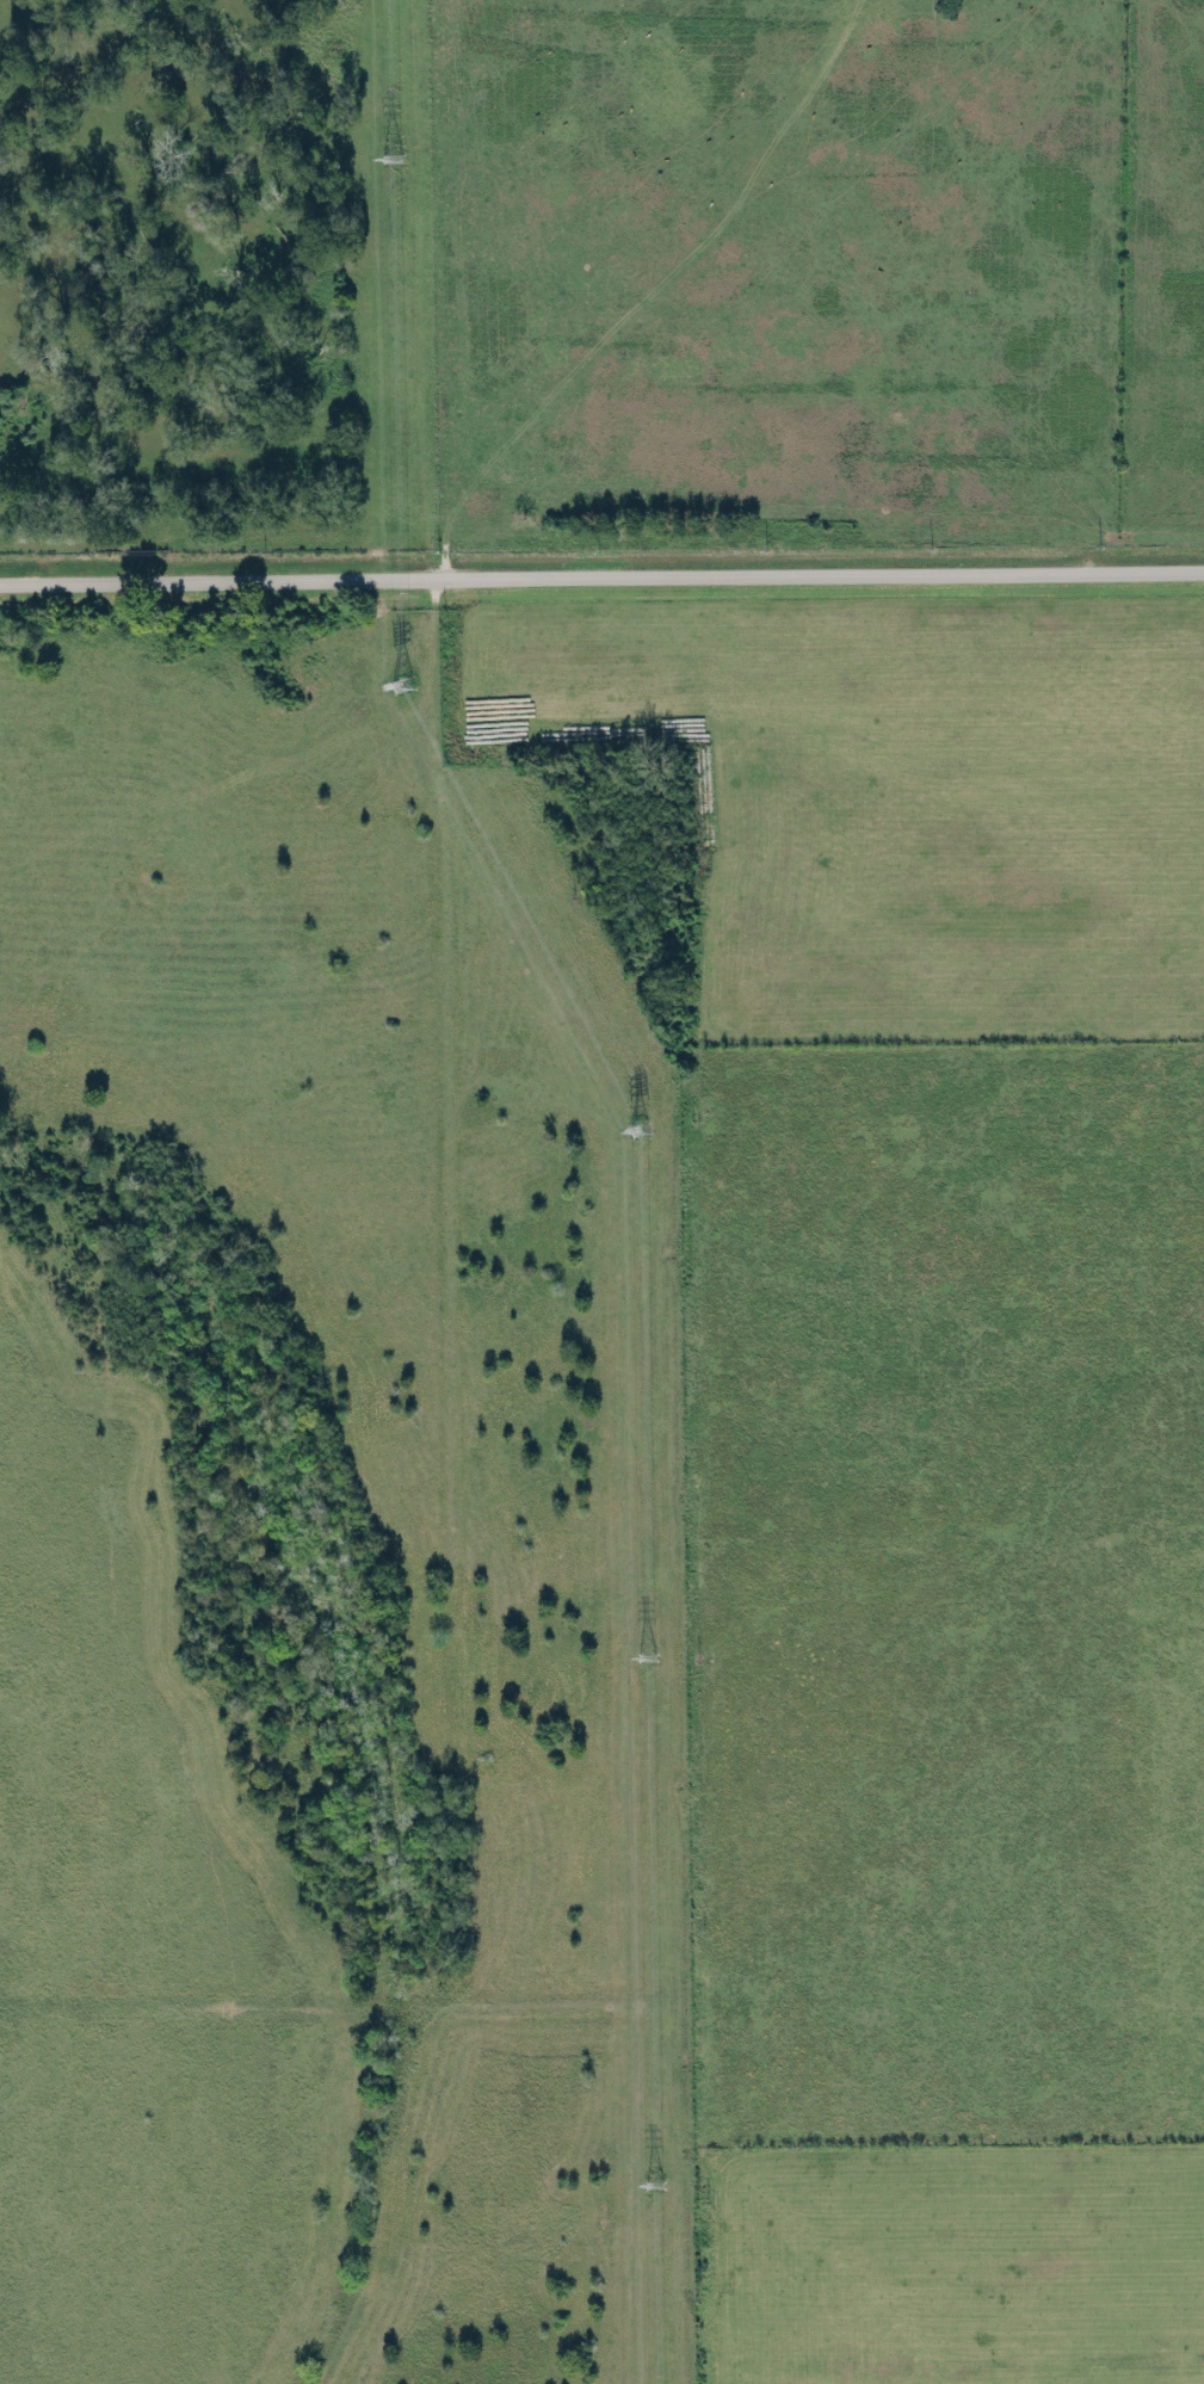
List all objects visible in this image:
power tower: (391, 156)
road: (601, 576)
power tower: (403, 692)
power tower: (641, 1128)
power tower: (644, 1655)
power tower: (655, 2187)

